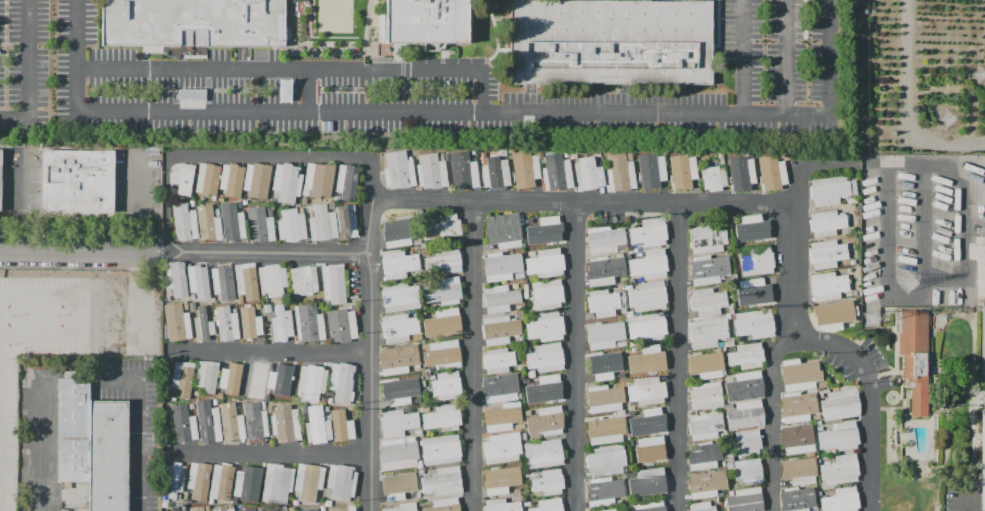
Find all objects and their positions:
park: (336, 14)
road: (807, 20)
building: (194, 22)
building: (430, 22)
road: (288, 34)
road: (342, 34)
building: (609, 42)
road: (743, 57)
road: (787, 57)
road: (298, 69)
road: (28, 71)
power tower: (976, 77)
parking lot: (451, 88)
road: (311, 90)
road: (140, 110)
road: (626, 113)
power tower: (946, 122)
road: (43, 129)
building: (441, 157)
building: (481, 158)
road: (268, 161)
building: (536, 161)
building: (721, 161)
road: (846, 164)
building: (729, 169)
building: (398, 170)
building: (463, 171)
building: (431, 172)
building: (494, 172)
building: (557, 173)
building: (620, 173)
building: (588, 174)
building: (683, 174)
building: (772, 174)
building: (526, 175)
building: (651, 175)
building: (1, 178)
building: (183, 178)
building: (742, 178)
building: (207, 179)
building: (230, 179)
building: (318, 179)
building: (713, 179)
building: (257, 180)
building: (347, 181)
building: (287, 182)
building: (74, 183)
building: (831, 190)
building: (181, 198)
building: (212, 199)
building: (304, 200)
building: (273, 201)
road: (582, 202)
building: (191, 203)
building: (239, 203)
building: (244, 203)
road: (165, 205)
building: (331, 205)
road: (19, 206)
road: (136, 207)
building: (217, 212)
building: (269, 212)
building: (233, 221)
building: (346, 221)
building: (184, 222)
building: (208, 222)
road: (924, 222)
building: (322, 223)
building: (826, 223)
building: (260, 224)
building: (291, 225)
building: (442, 226)
building: (503, 230)
building: (754, 230)
building: (400, 231)
building: (848, 231)
building: (546, 232)
building: (649, 233)
building: (707, 239)
building: (604, 240)
building: (416, 241)
building: (630, 249)
building: (637, 250)
road: (264, 251)
road: (79, 252)
building: (827, 254)
building: (445, 261)
building: (756, 261)
building: (852, 262)
building: (545, 263)
building: (398, 264)
building: (736, 264)
building: (649, 265)
building: (501, 266)
building: (980, 267)
building: (708, 269)
building: (604, 270)
building: (518, 275)
building: (734, 276)
building: (175, 279)
building: (273, 279)
road: (945, 279)
building: (199, 280)
building: (304, 280)
building: (625, 280)
building: (246, 281)
building: (223, 283)
building: (333, 283)
power tower: (907, 285)
building: (514, 286)
building: (827, 286)
building: (859, 286)
building: (526, 288)
building: (629, 288)
building: (444, 291)
building: (755, 291)
road: (2, 292)
building: (855, 292)
building: (547, 294)
building: (192, 296)
building: (400, 296)
building: (526, 296)
building: (648, 296)
building: (500, 299)
building: (707, 301)
building: (602, 303)
building: (287, 304)
building: (623, 305)
building: (234, 310)
building: (733, 310)
building: (424, 313)
building: (519, 314)
building: (833, 317)
power tower: (872, 322)
building: (176, 323)
building: (308, 323)
building: (443, 323)
building: (202, 324)
building: (227, 324)
building: (250, 324)
building: (281, 324)
building: (755, 324)
building: (341, 325)
building: (646, 326)
building: (545, 327)
building: (398, 328)
building: (499, 330)
building: (603, 333)
building: (707, 333)
road: (370, 336)
road: (787, 336)
building: (417, 337)
building: (618, 343)
building: (728, 343)
building: (424, 347)
building: (717, 348)
building: (527, 349)
building: (983, 349)
road: (117, 350)
building: (632, 350)
road: (269, 353)
building: (442, 354)
road: (474, 356)
road: (578, 356)
road: (681, 356)
building: (746, 356)
building: (914, 357)
building: (398, 358)
building: (546, 358)
building: (650, 359)
building: (498, 361)
building: (706, 365)
building: (519, 367)
building: (605, 367)
building: (530, 373)
building: (799, 375)
building: (207, 377)
building: (729, 377)
building: (230, 378)
building: (255, 378)
building: (182, 379)
building: (279, 380)
building: (530, 380)
building: (312, 381)
building: (341, 381)
building: (523, 381)
building: (822, 384)
building: (447, 386)
building: (744, 387)
building: (500, 388)
building: (545, 390)
building: (646, 391)
building: (397, 395)
road: (870, 395)
building: (519, 396)
building: (705, 396)
building: (322, 398)
building: (172, 399)
building: (267, 399)
building: (420, 399)
building: (605, 399)
building: (329, 400)
building: (215, 402)
road: (165, 403)
building: (263, 405)
building: (840, 405)
building: (190, 406)
building: (729, 406)
building: (798, 407)
building: (327, 408)
building: (350, 408)
building: (269, 409)
building: (302, 409)
building: (745, 415)
building: (502, 417)
building: (816, 417)
building: (442, 418)
building: (646, 420)
building: (255, 421)
building: (546, 421)
building: (207, 422)
building: (231, 422)
building: (398, 423)
building: (818, 423)
building: (183, 424)
building: (285, 424)
building: (317, 426)
building: (342, 426)
building: (519, 426)
building: (705, 427)
building: (819, 428)
building: (604, 429)
road: (138, 430)
building: (419, 432)
building: (723, 435)
building: (523, 436)
building: (839, 437)
building: (797, 439)
road: (38, 442)
building: (748, 442)
building: (94, 445)
building: (502, 448)
building: (441, 449)
building: (650, 449)
building: (398, 453)
road: (269, 454)
building: (543, 454)
building: (704, 455)
building: (806, 458)
building: (730, 459)
building: (824, 460)
building: (605, 461)
building: (983, 462)
building: (420, 464)
building: (723, 464)
building: (729, 465)
building: (840, 470)
building: (749, 471)
building: (421, 472)
building: (799, 473)
building: (529, 474)
building: (198, 480)
building: (501, 480)
building: (176, 481)
building: (308, 481)
building: (341, 481)
building: (442, 481)
building: (221, 482)
building: (247, 482)
building: (548, 482)
building: (647, 482)
building: (277, 483)
building: (706, 484)
building: (399, 485)
building: (518, 489)
building: (604, 492)
building: (731, 494)
building: (819, 494)
building: (797, 499)
building: (234, 500)
building: (841, 500)
building: (188, 501)
building: (619, 501)
building: (744, 501)
road: (965, 501)
building: (295, 502)
building: (328, 503)
building: (527, 503)
building: (444, 505)
building: (501, 505)
building: (548, 505)
building: (650, 506)
building: (183, 507)
building: (402, 507)
building: (702, 507)
building: (188, 508)
building: (321, 508)
building: (343, 508)
building: (175, 509)
building: (222, 509)
building: (247, 509)
building: (290, 509)
building: (309, 509)
building: (283, 510)
building: (610, 510)
building: (820, 510)

